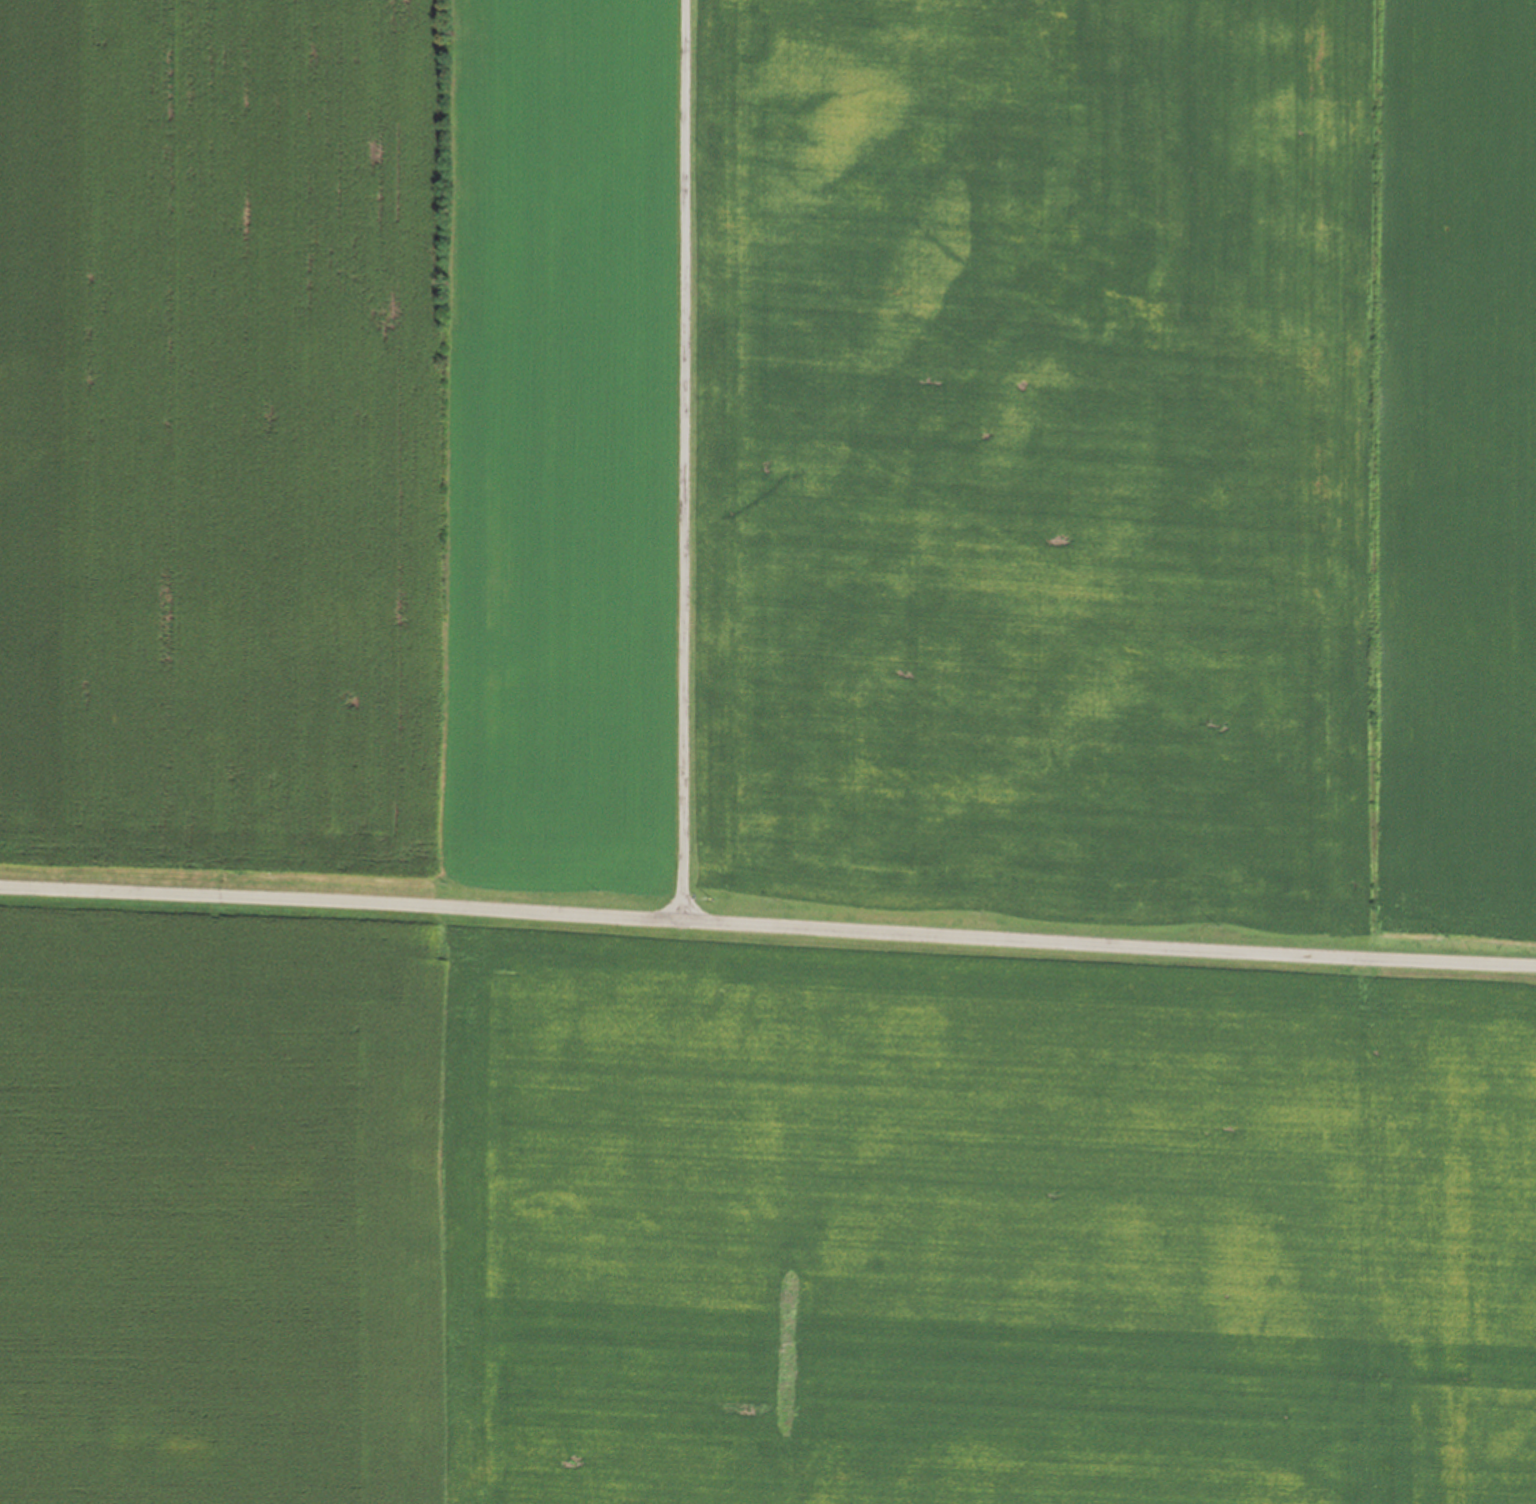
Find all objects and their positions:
road: (685, 460)
road: (767, 924)

